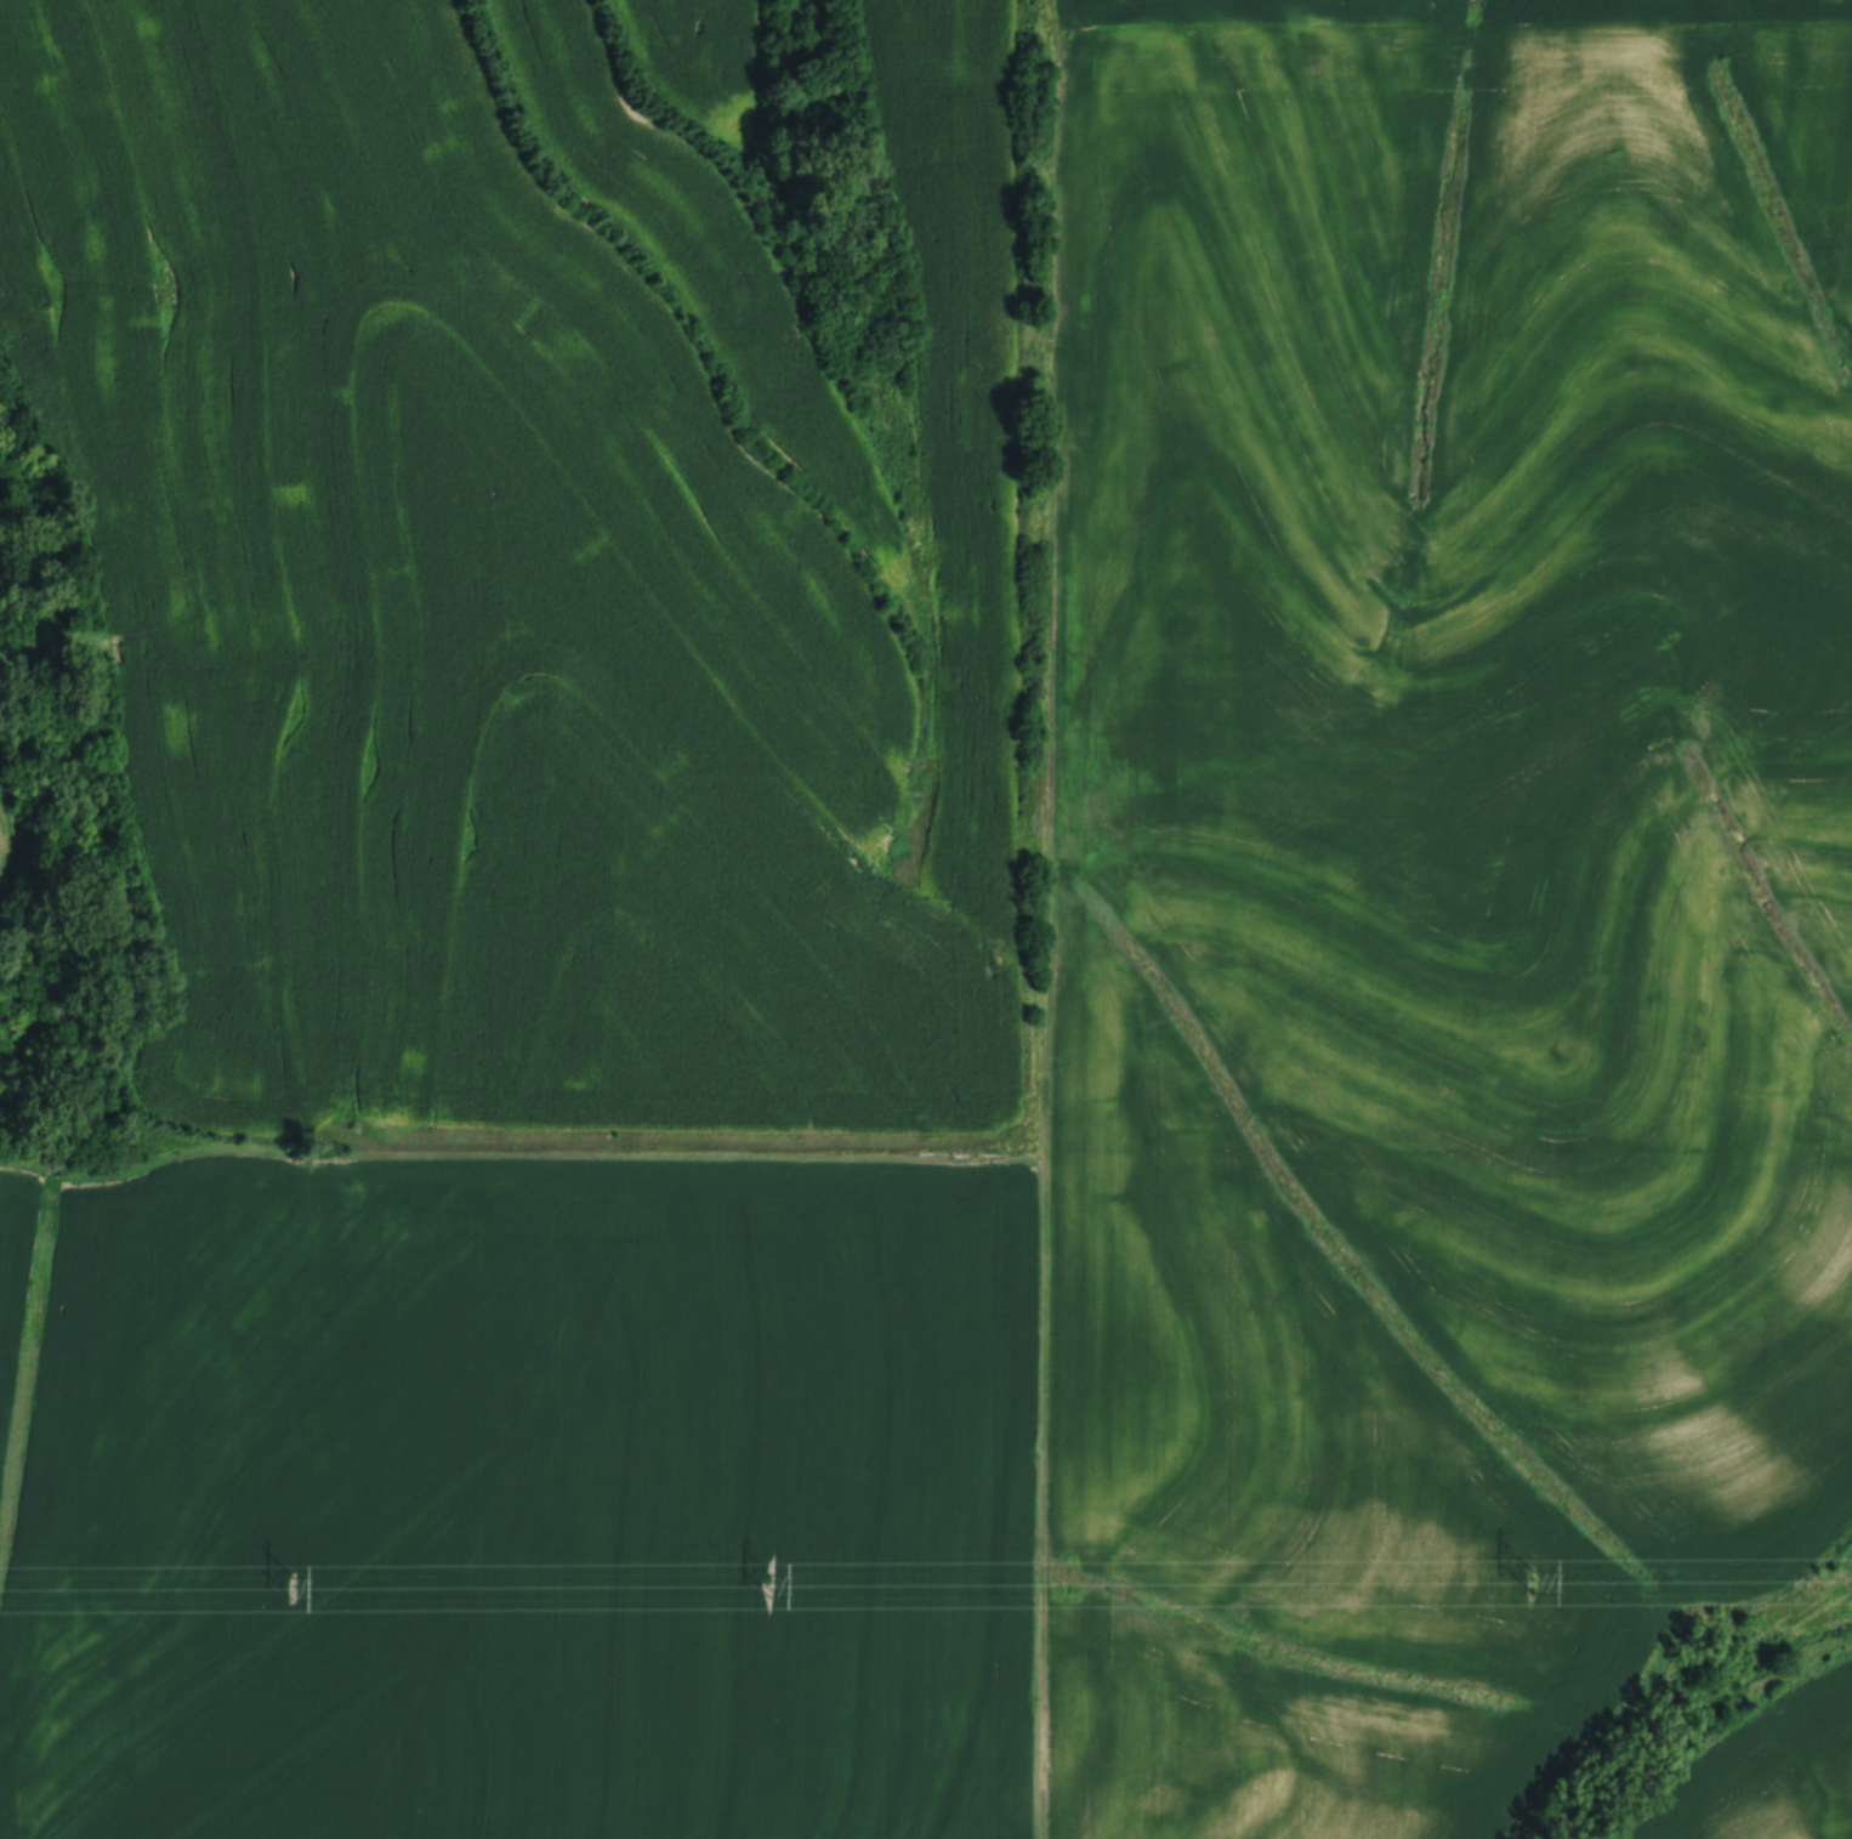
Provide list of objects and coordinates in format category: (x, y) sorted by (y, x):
power tower: (1530, 1577)
power tower: (771, 1582)
power tower: (291, 1584)
crop: (1766, 1771)

